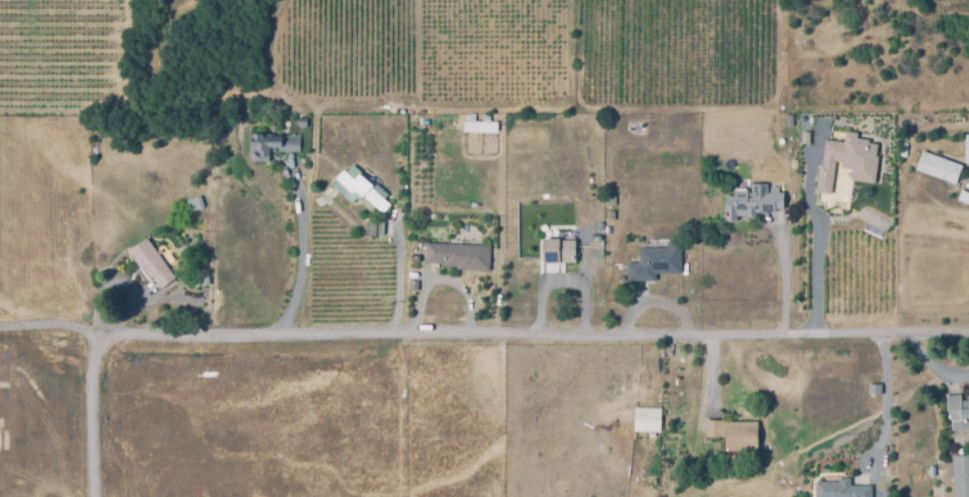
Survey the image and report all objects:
building: (788, 119)
building: (301, 121)
building: (480, 127)
building: (271, 145)
building: (967, 149)
building: (848, 158)
building: (939, 166)
building: (361, 191)
building: (963, 196)
building: (608, 199)
building: (752, 201)
building: (193, 206)
building: (372, 229)
road: (815, 247)
building: (558, 250)
road: (300, 254)
building: (458, 255)
building: (152, 262)
building: (655, 262)
road: (398, 276)
road: (783, 278)
road: (442, 281)
road: (559, 282)
building: (413, 285)
road: (653, 302)
road: (484, 335)
building: (874, 388)
road: (884, 409)
building: (958, 411)
road: (92, 413)
building: (647, 419)
building: (734, 435)
building: (960, 475)
building: (841, 488)

